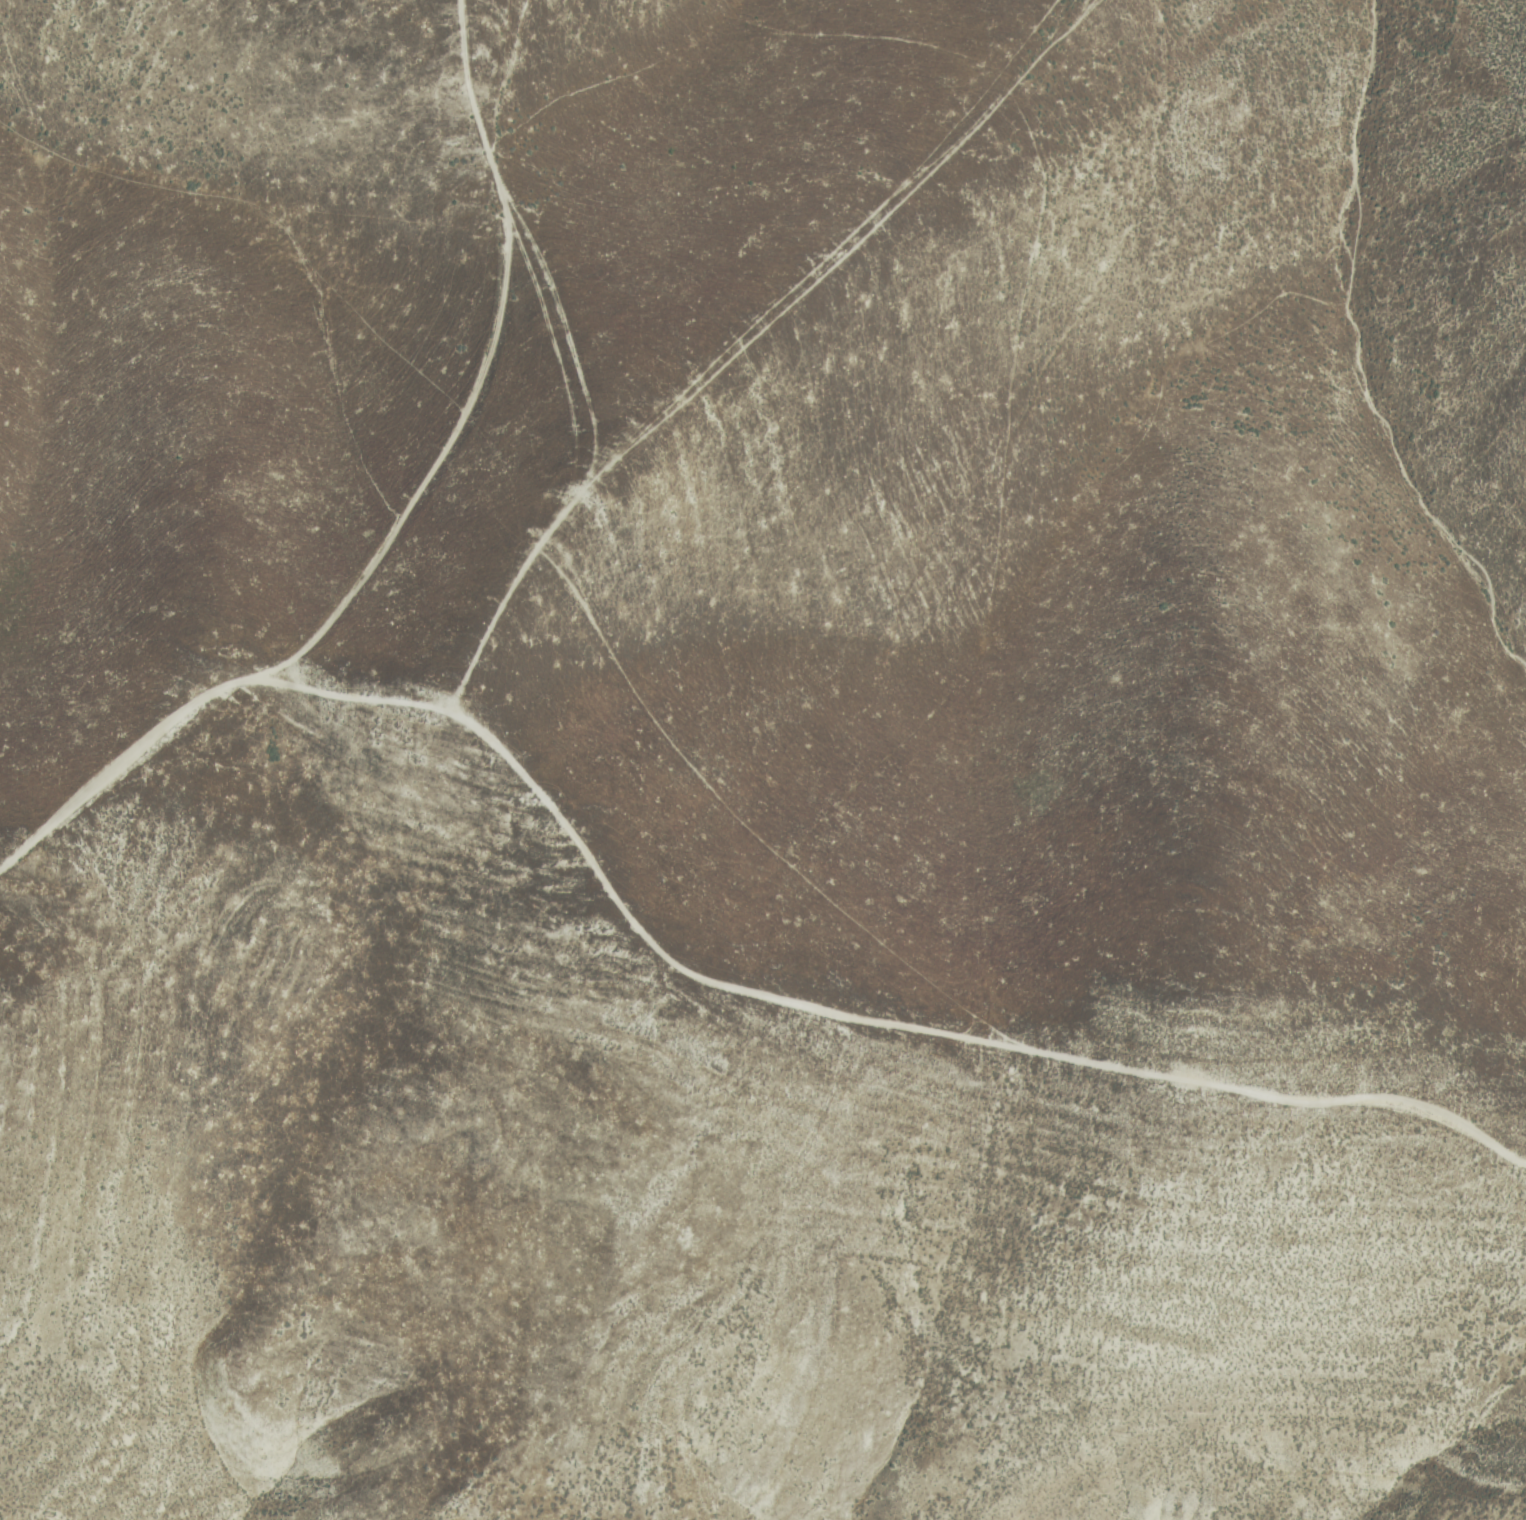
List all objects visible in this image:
road: (741, 333)
road: (482, 382)
road: (682, 970)

